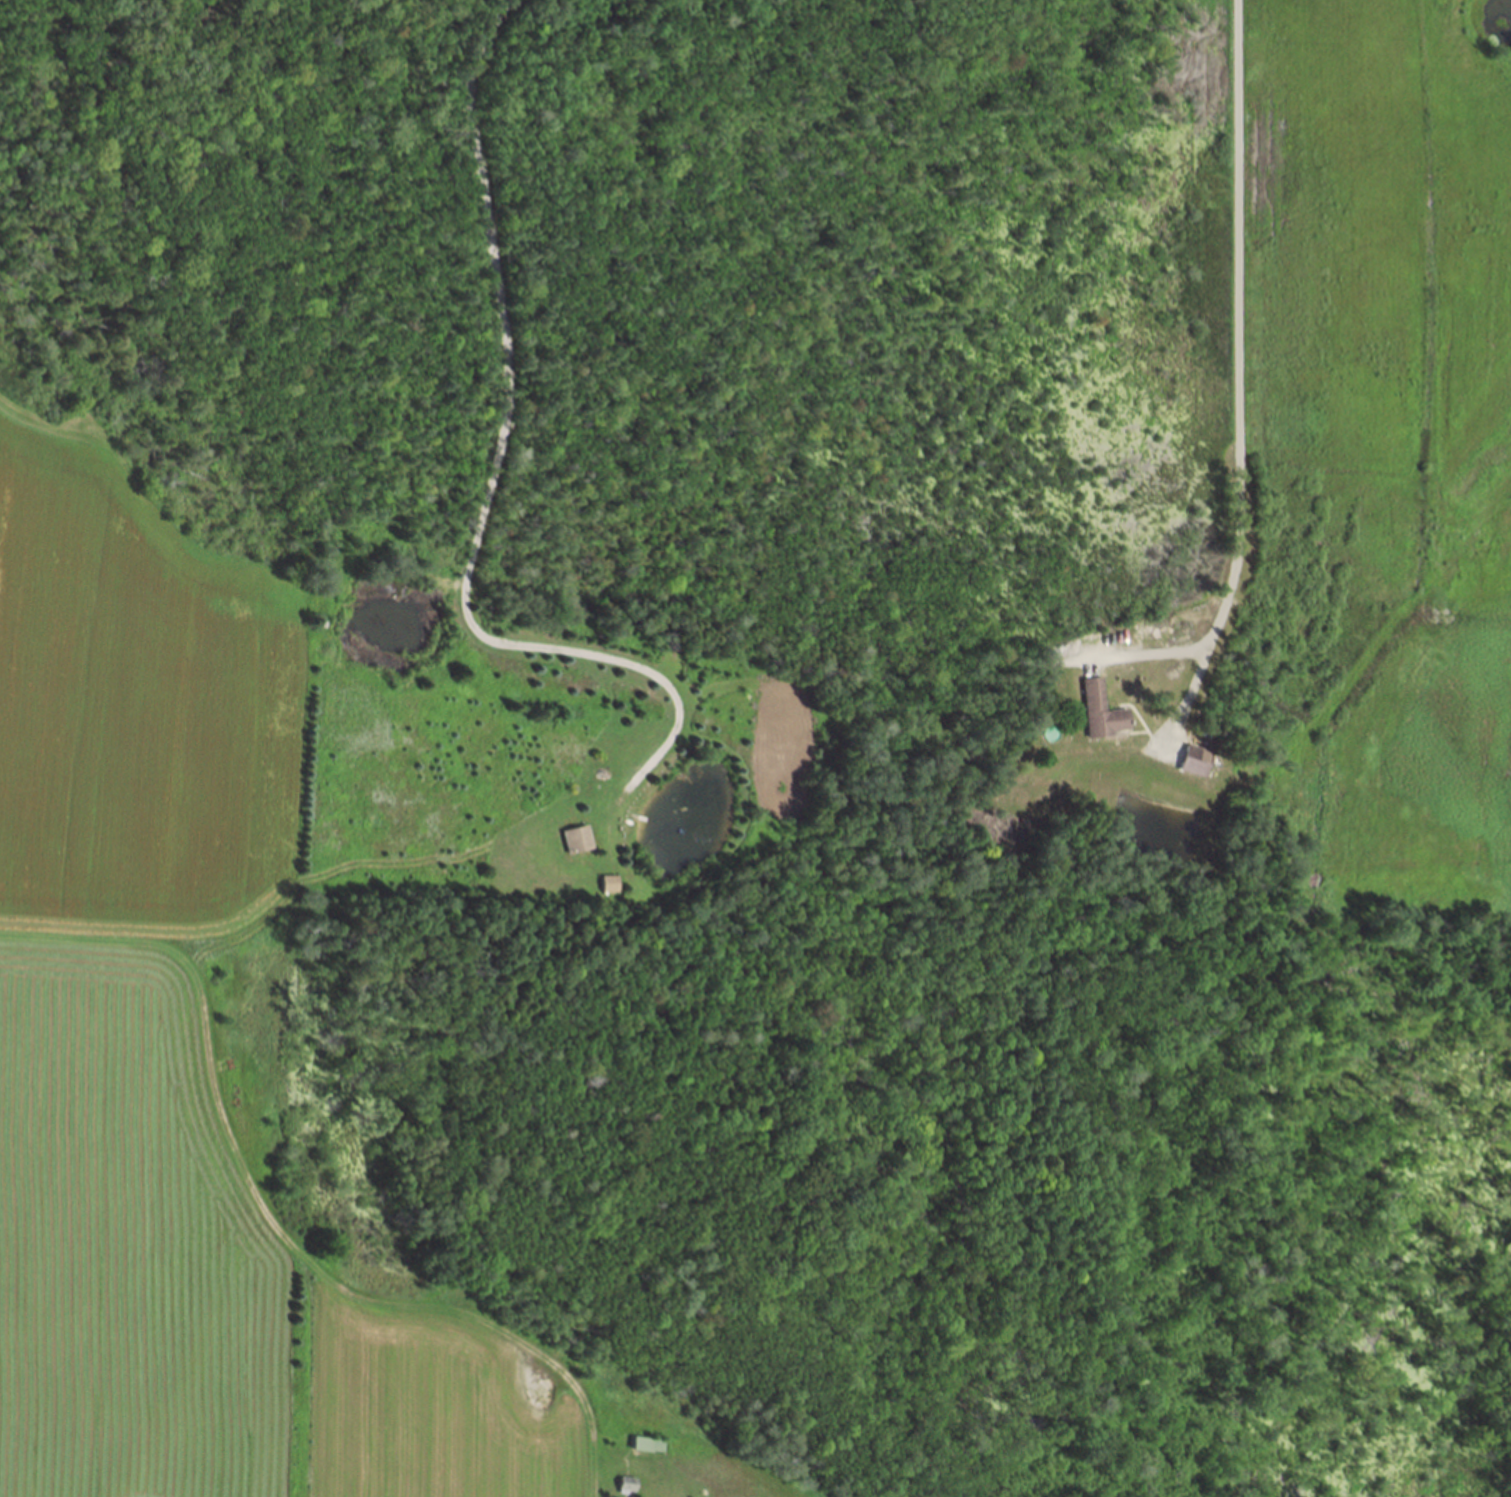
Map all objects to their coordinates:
road: (1240, 372)
road: (498, 468)
road: (1151, 654)
building: (1098, 711)
building: (1190, 761)
building: (574, 840)
building: (606, 884)
building: (623, 1485)

